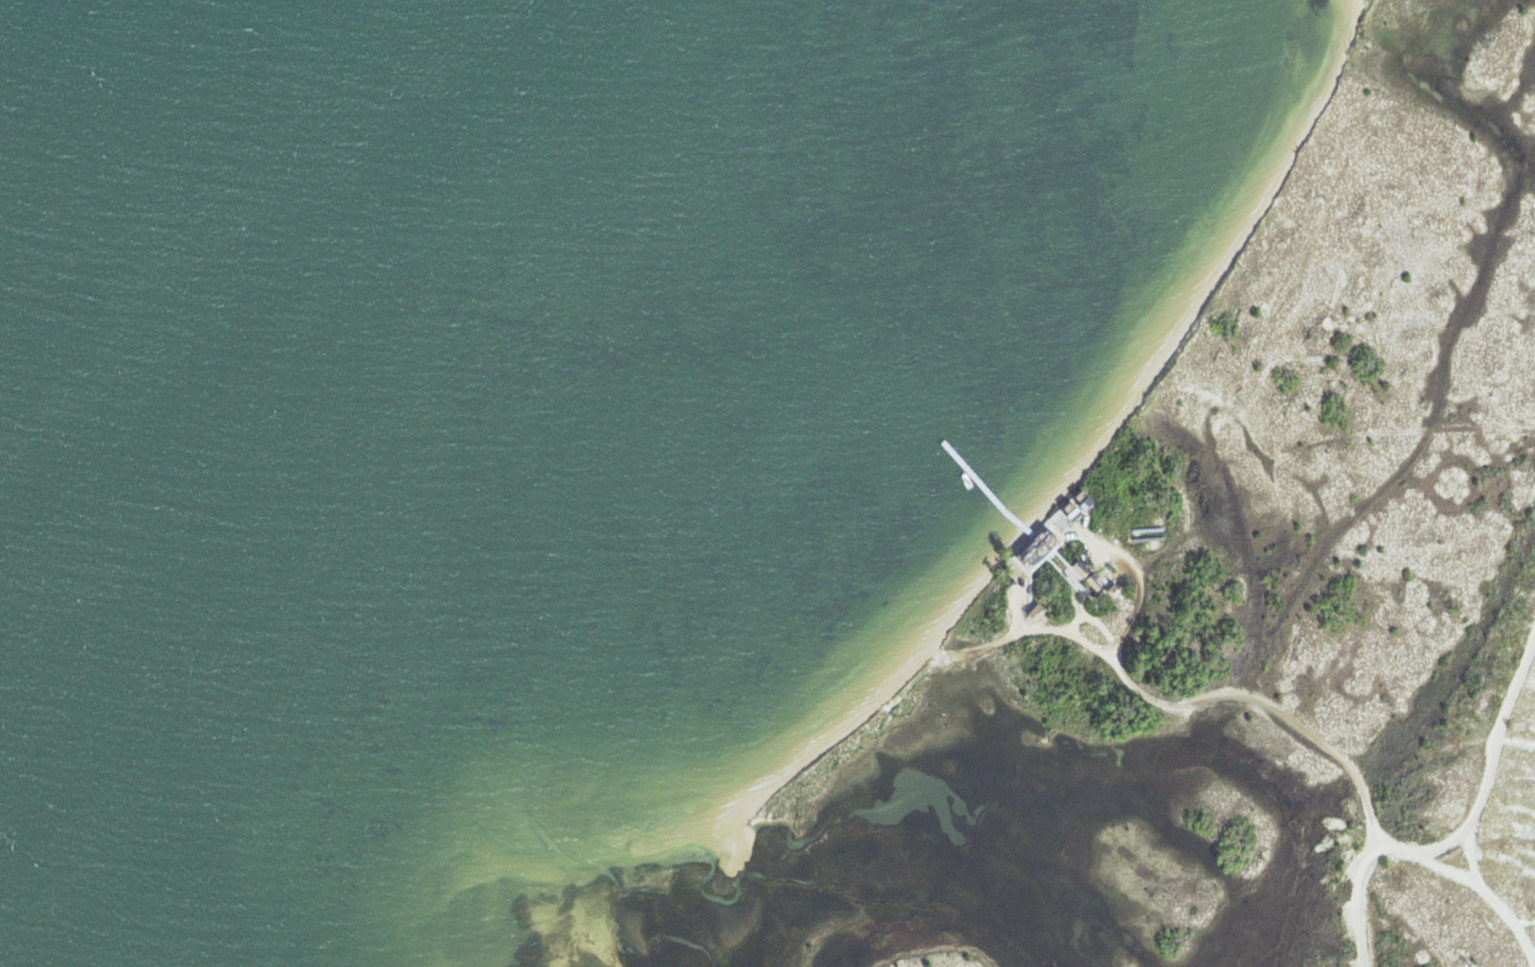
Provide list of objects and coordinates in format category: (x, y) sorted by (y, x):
road: (1257, 379)
road: (1148, 428)
road: (1196, 456)
pier: (985, 490)
building: (1084, 499)
building: (1072, 510)
building: (1060, 522)
building: (1145, 529)
road: (1175, 536)
road: (1065, 537)
building: (1147, 538)
road: (1029, 539)
building: (1037, 548)
road: (1060, 556)
road: (1053, 563)
building: (1080, 568)
building: (1095, 581)
road: (1137, 582)
building: (1113, 589)
road: (1078, 592)
road: (1076, 600)
road: (1017, 606)
road: (1021, 608)
building: (1036, 611)
road: (1090, 616)
road: (1025, 628)
road: (1271, 705)
road: (1456, 836)
road: (1467, 849)
road: (1489, 895)

